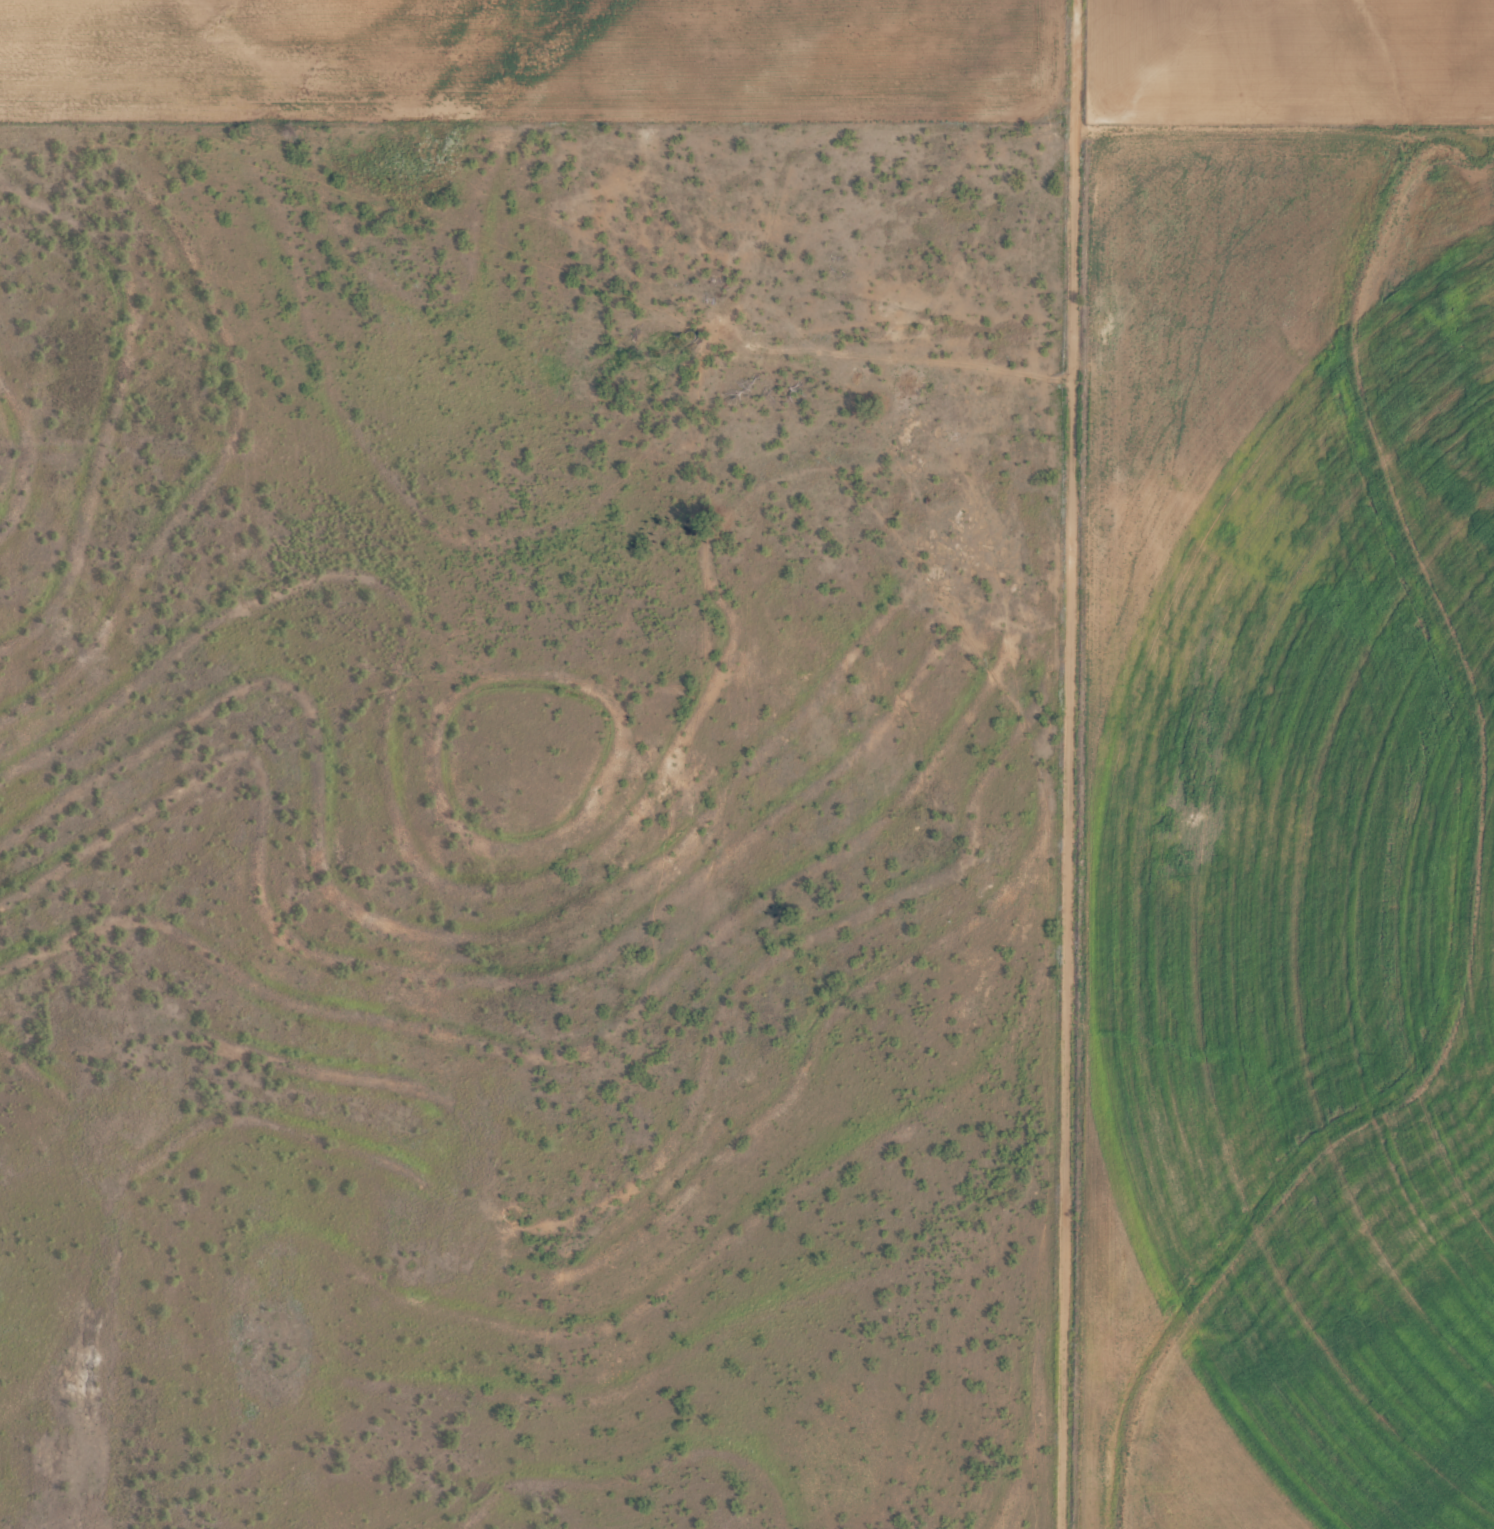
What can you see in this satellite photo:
road: (1073, 764)

